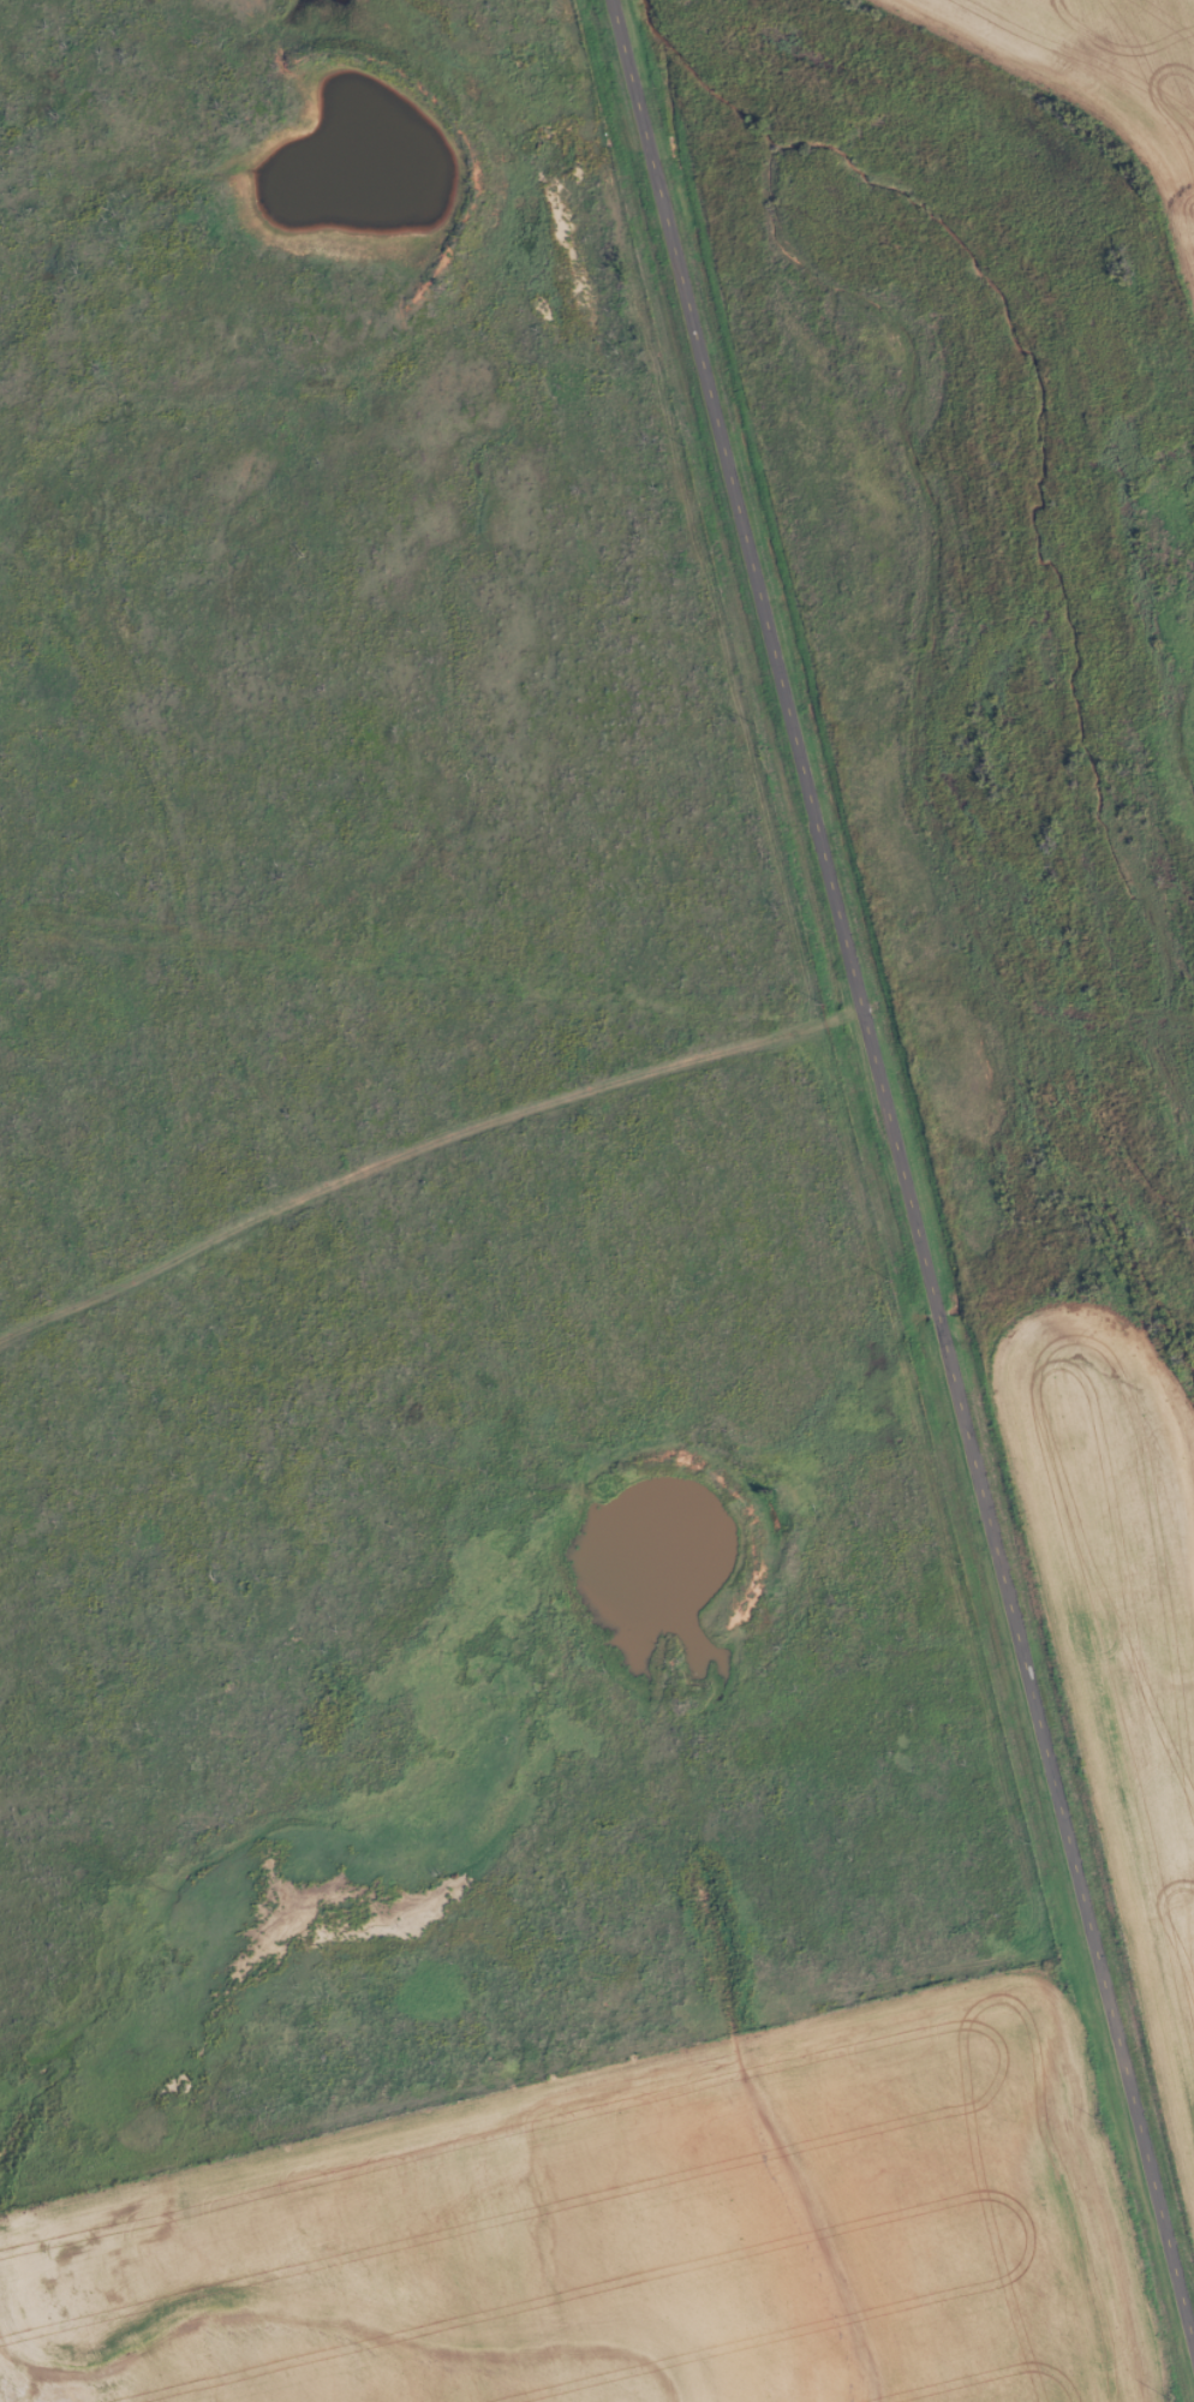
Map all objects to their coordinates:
road: (902, 1174)
road: (549, 2028)

